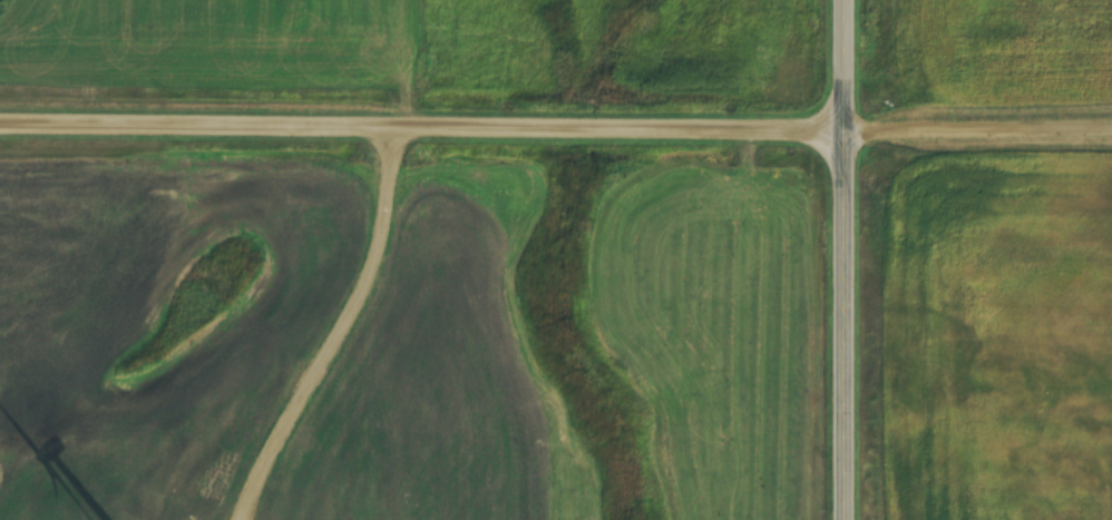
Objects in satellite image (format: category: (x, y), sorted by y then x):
road: (556, 127)
road: (841, 259)

